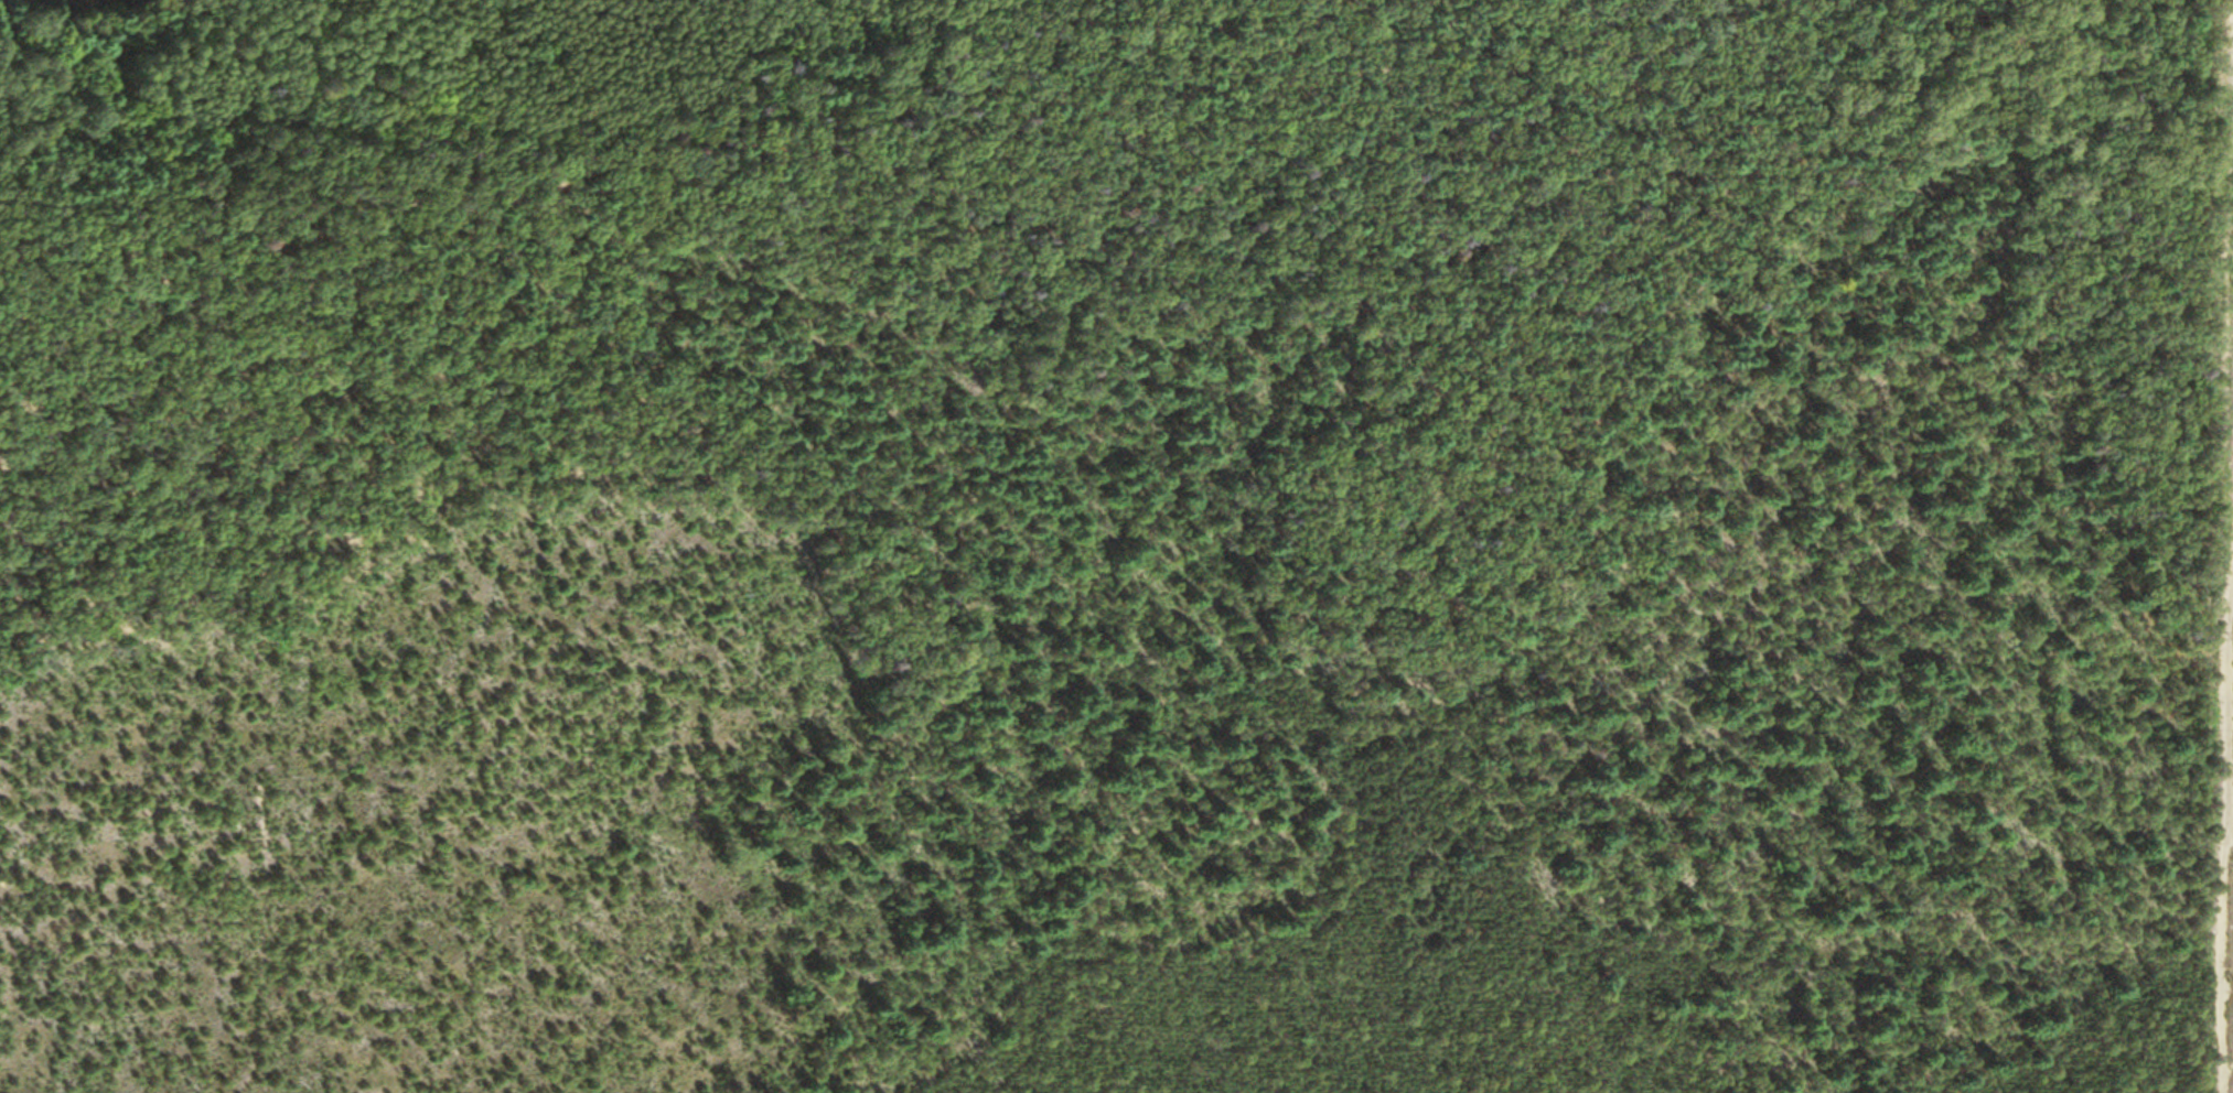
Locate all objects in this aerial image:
road: (2229, 1022)

